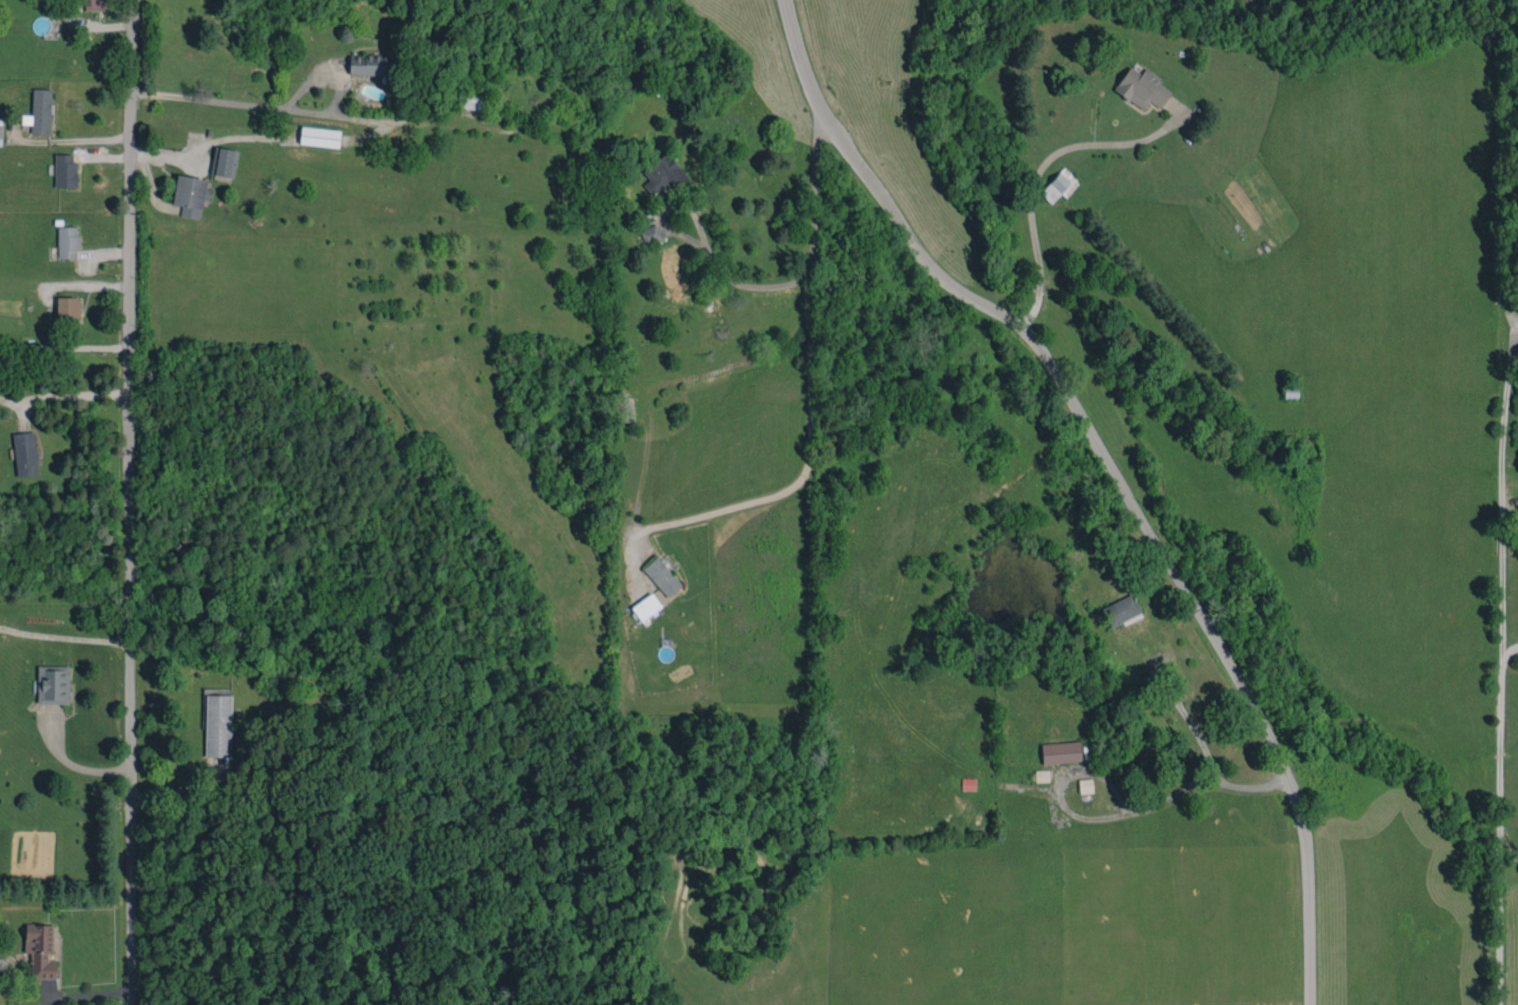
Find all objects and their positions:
building: (95, 5)
building: (369, 64)
building: (1141, 88)
building: (473, 100)
road: (276, 111)
building: (40, 112)
building: (319, 136)
road: (82, 138)
building: (224, 161)
building: (65, 170)
building: (663, 174)
road: (1034, 179)
building: (1060, 185)
building: (190, 195)
building: (650, 234)
road: (701, 238)
building: (68, 241)
building: (69, 309)
road: (64, 347)
road: (808, 381)
road: (63, 396)
building: (624, 407)
building: (25, 453)
road: (1110, 469)
road: (129, 502)
building: (662, 576)
building: (646, 606)
building: (1121, 610)
road: (1509, 650)
road: (1501, 661)
building: (53, 684)
building: (218, 725)
road: (1191, 728)
building: (1061, 752)
road: (75, 765)
building: (1041, 775)
building: (968, 783)
building: (1085, 785)
road: (1117, 813)
building: (40, 950)

